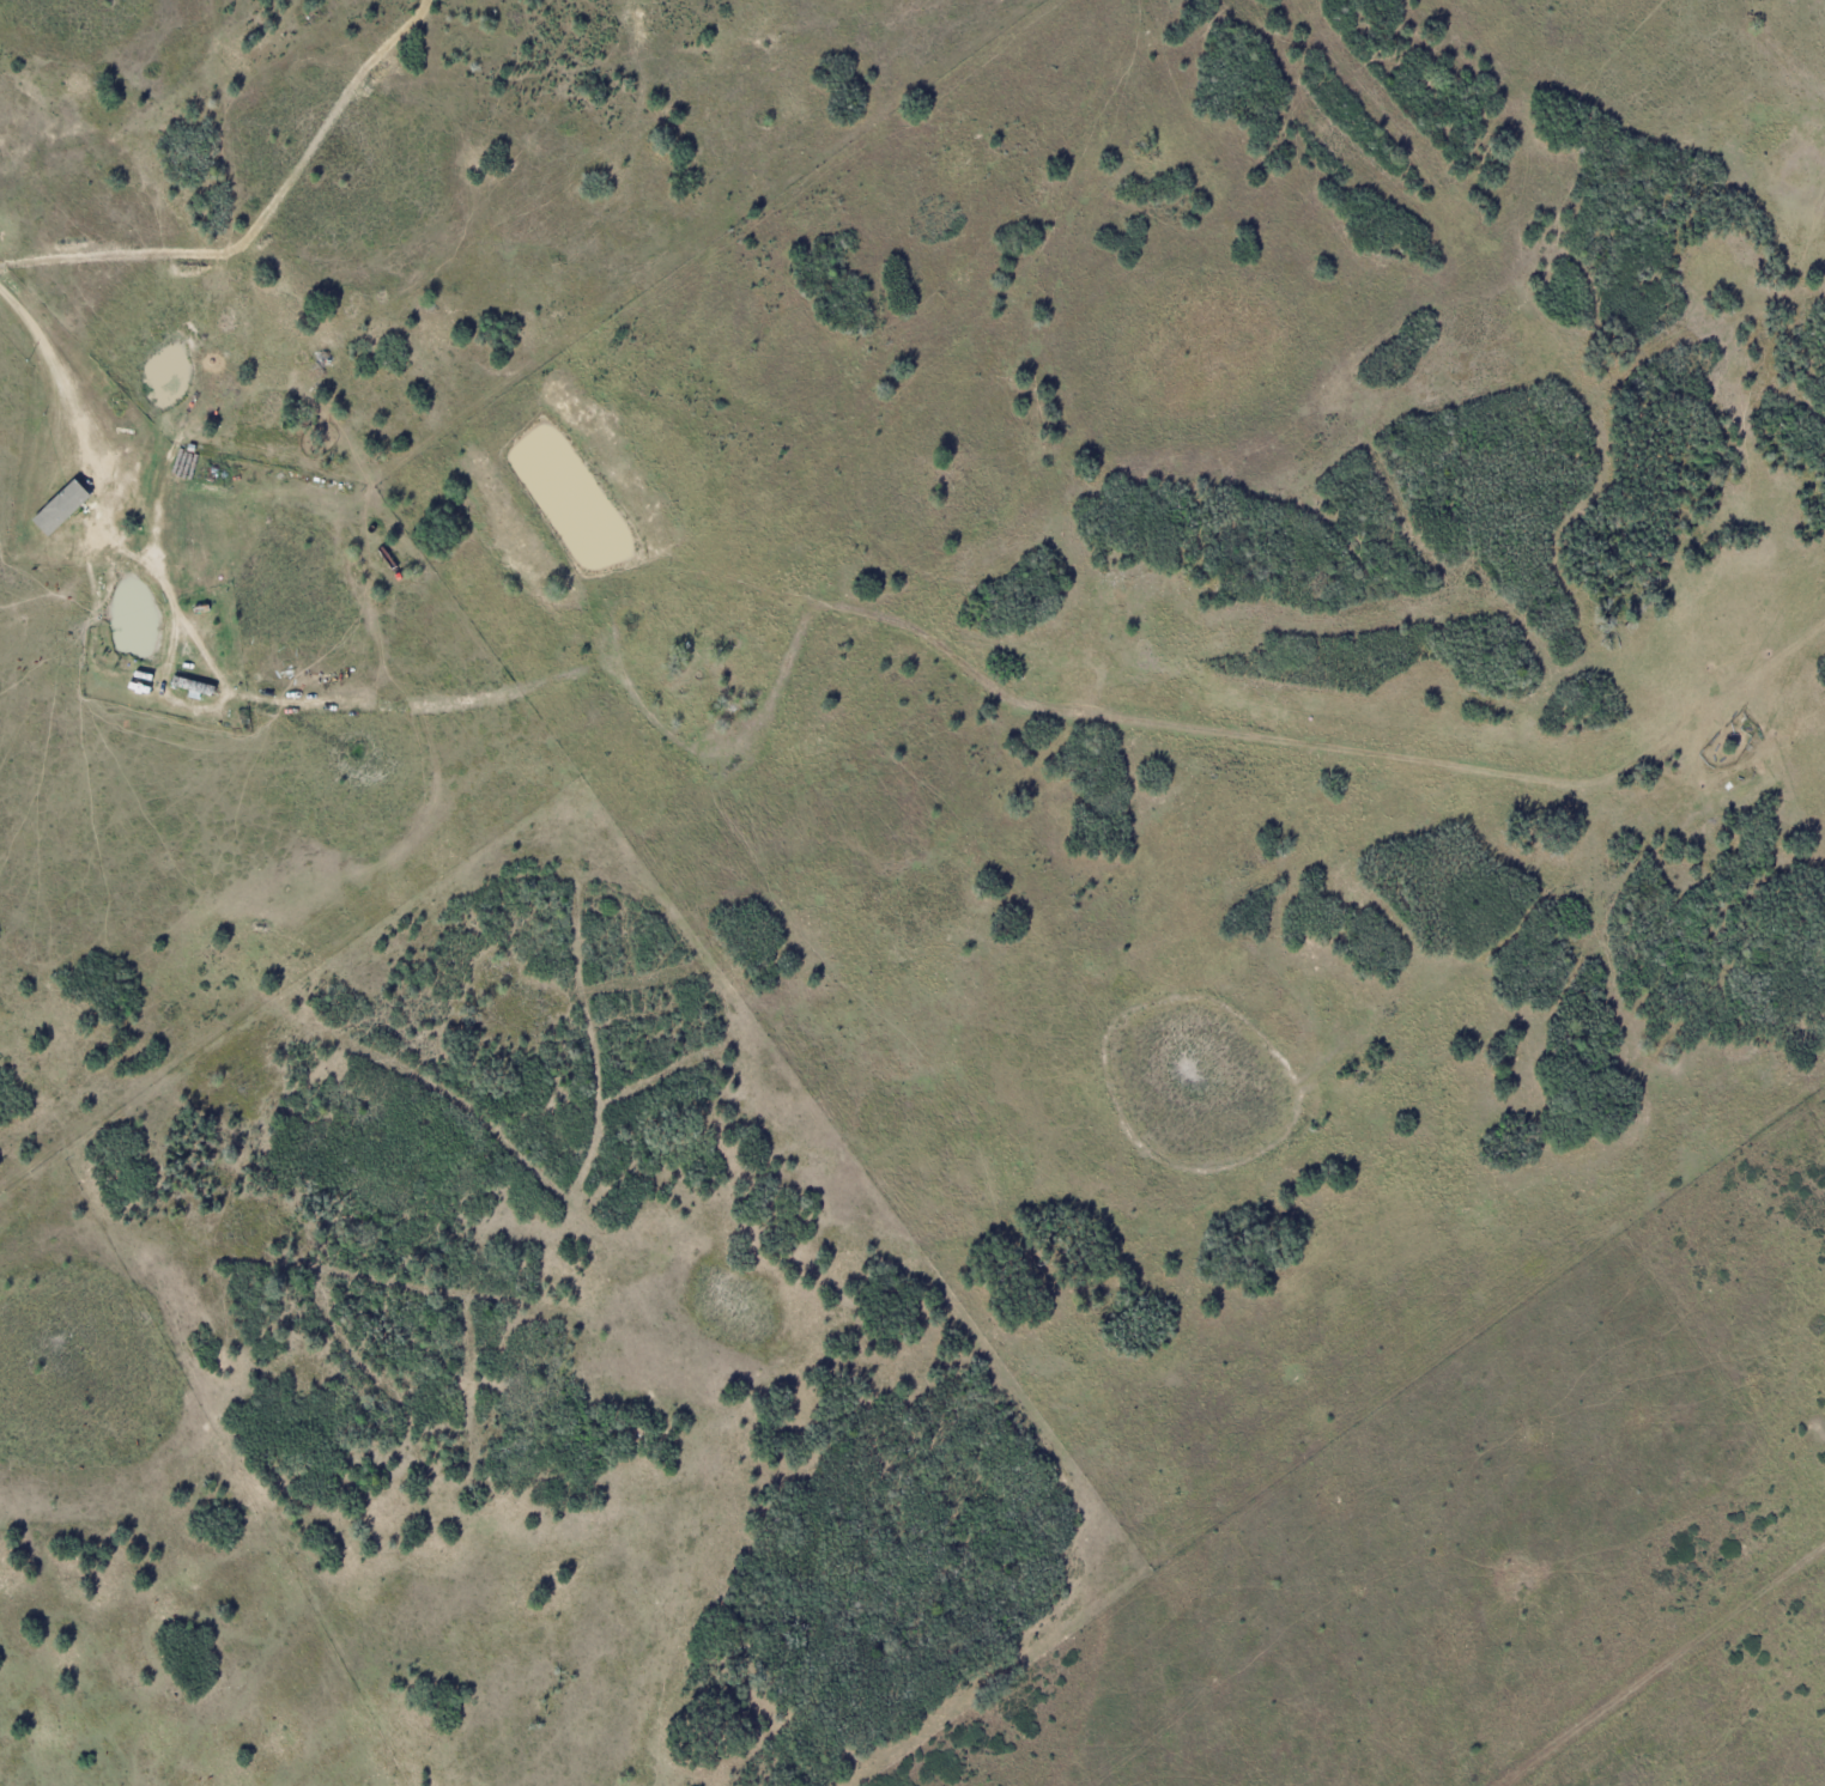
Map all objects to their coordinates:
building: (63, 509)

